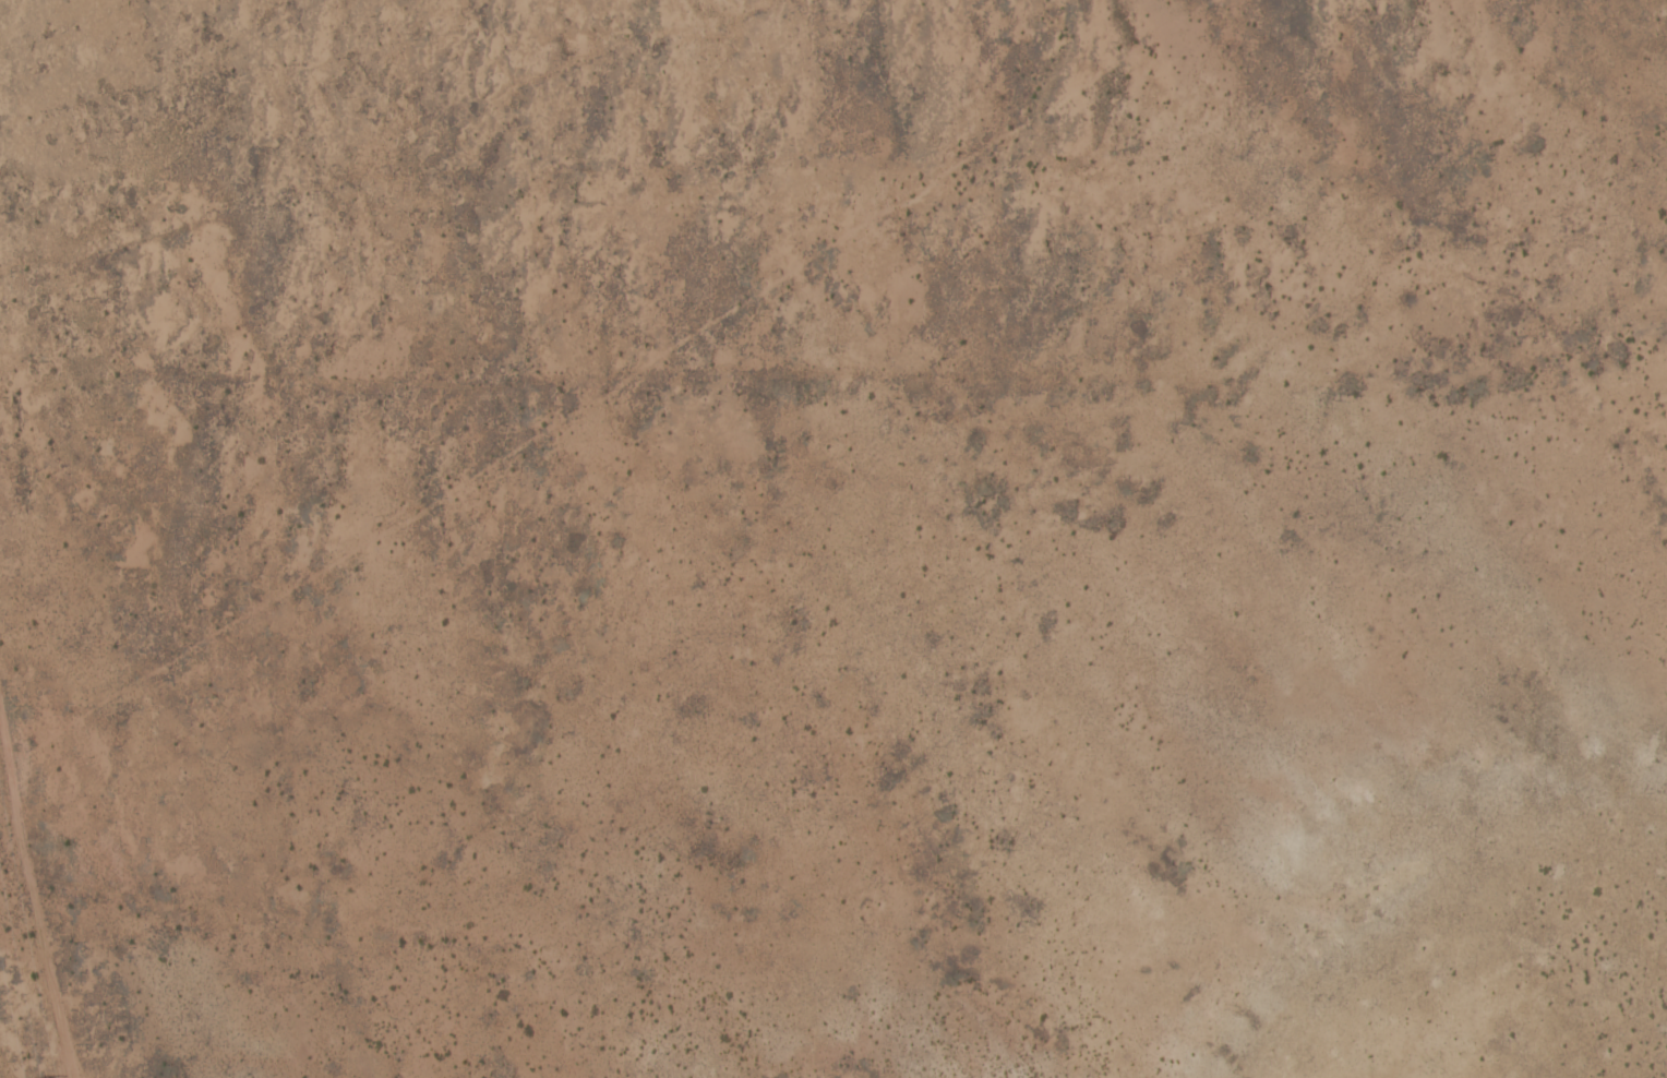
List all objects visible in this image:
road: (79, 668)

